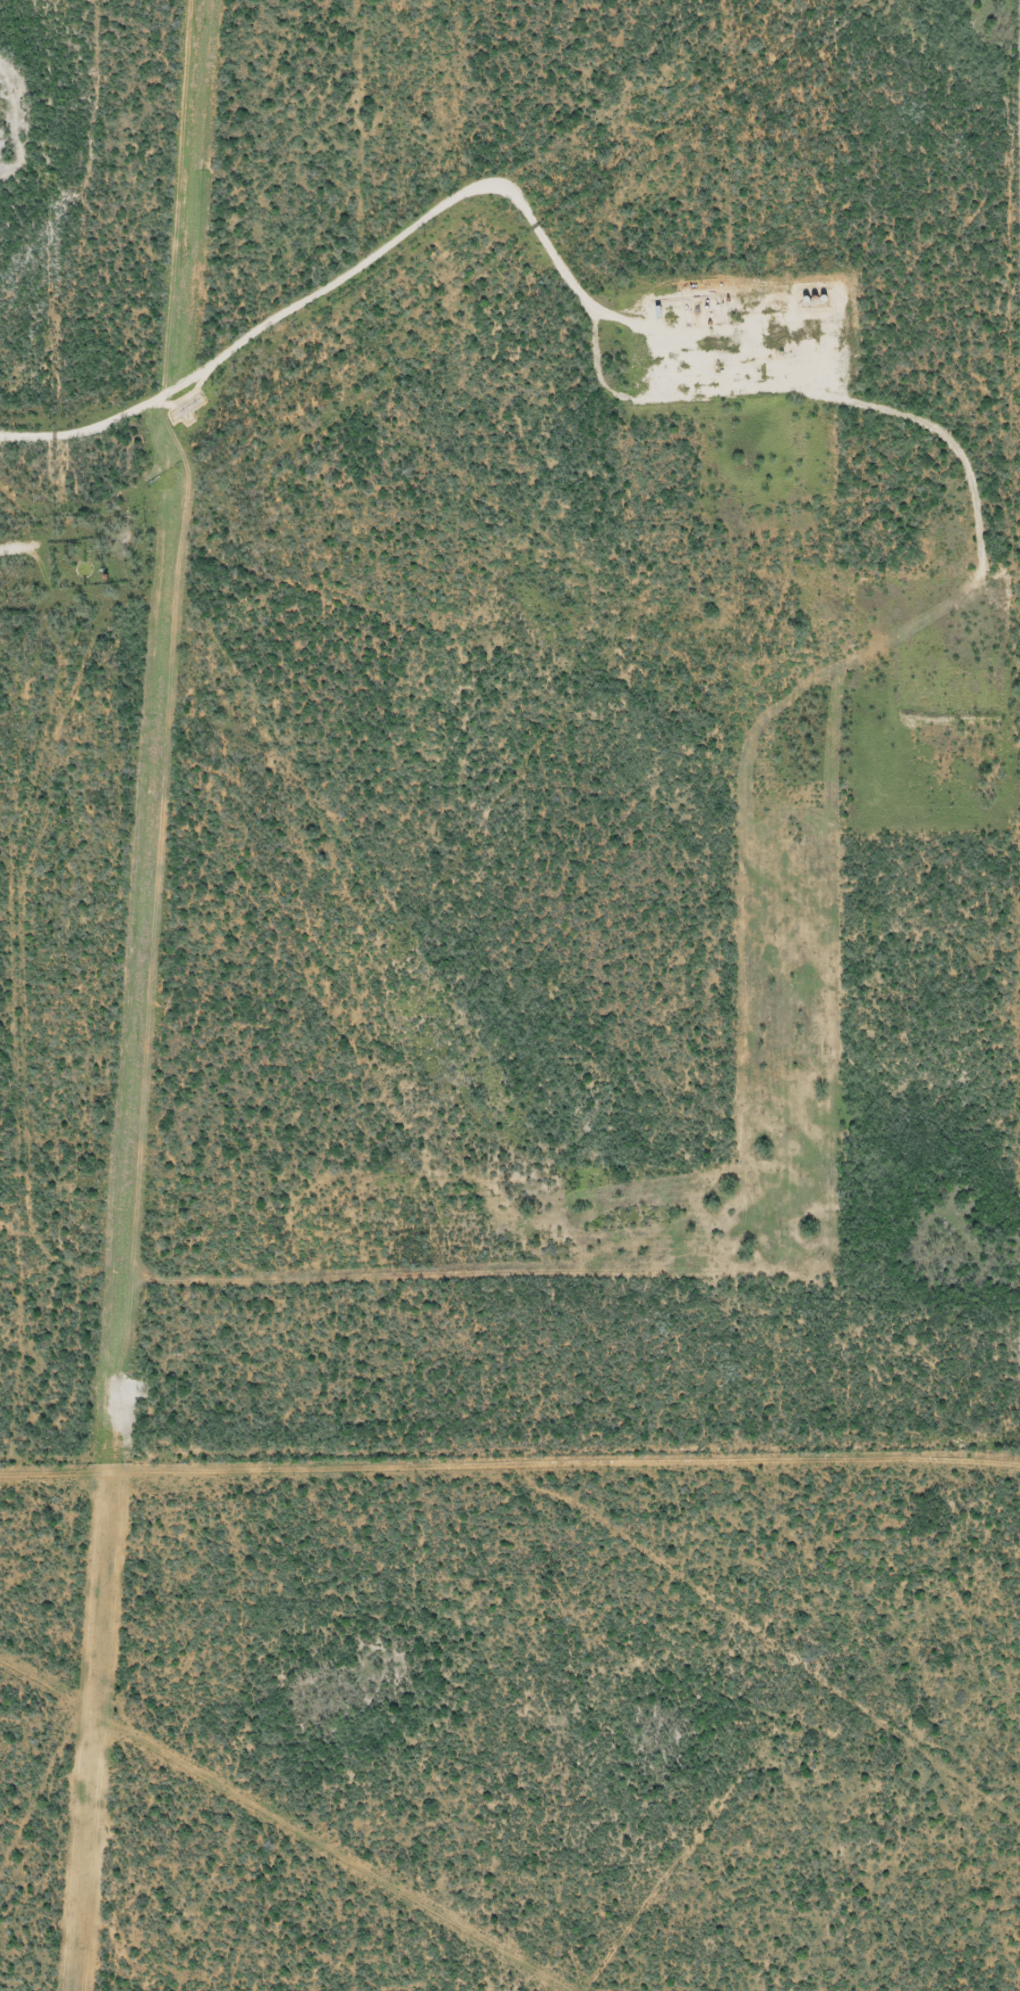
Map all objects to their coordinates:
road: (43, 1026)

